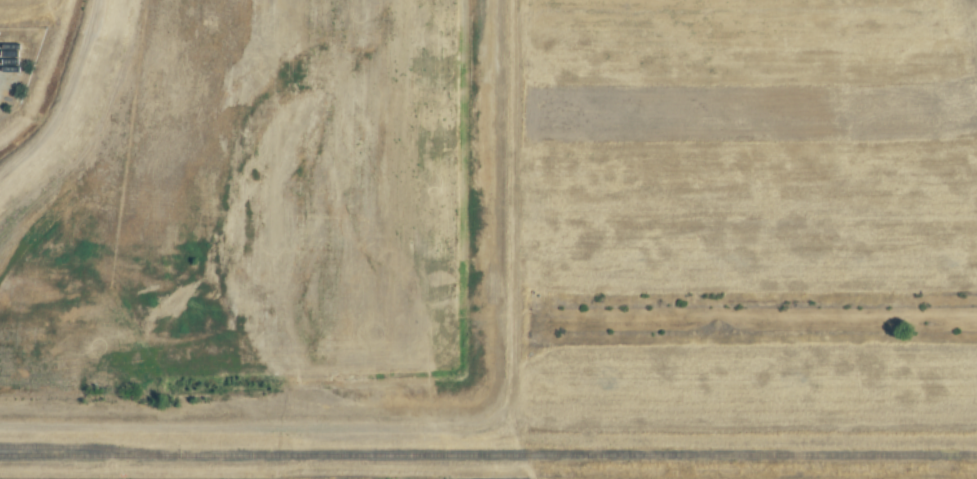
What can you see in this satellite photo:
railway: (82, 449)
railway: (488, 457)

